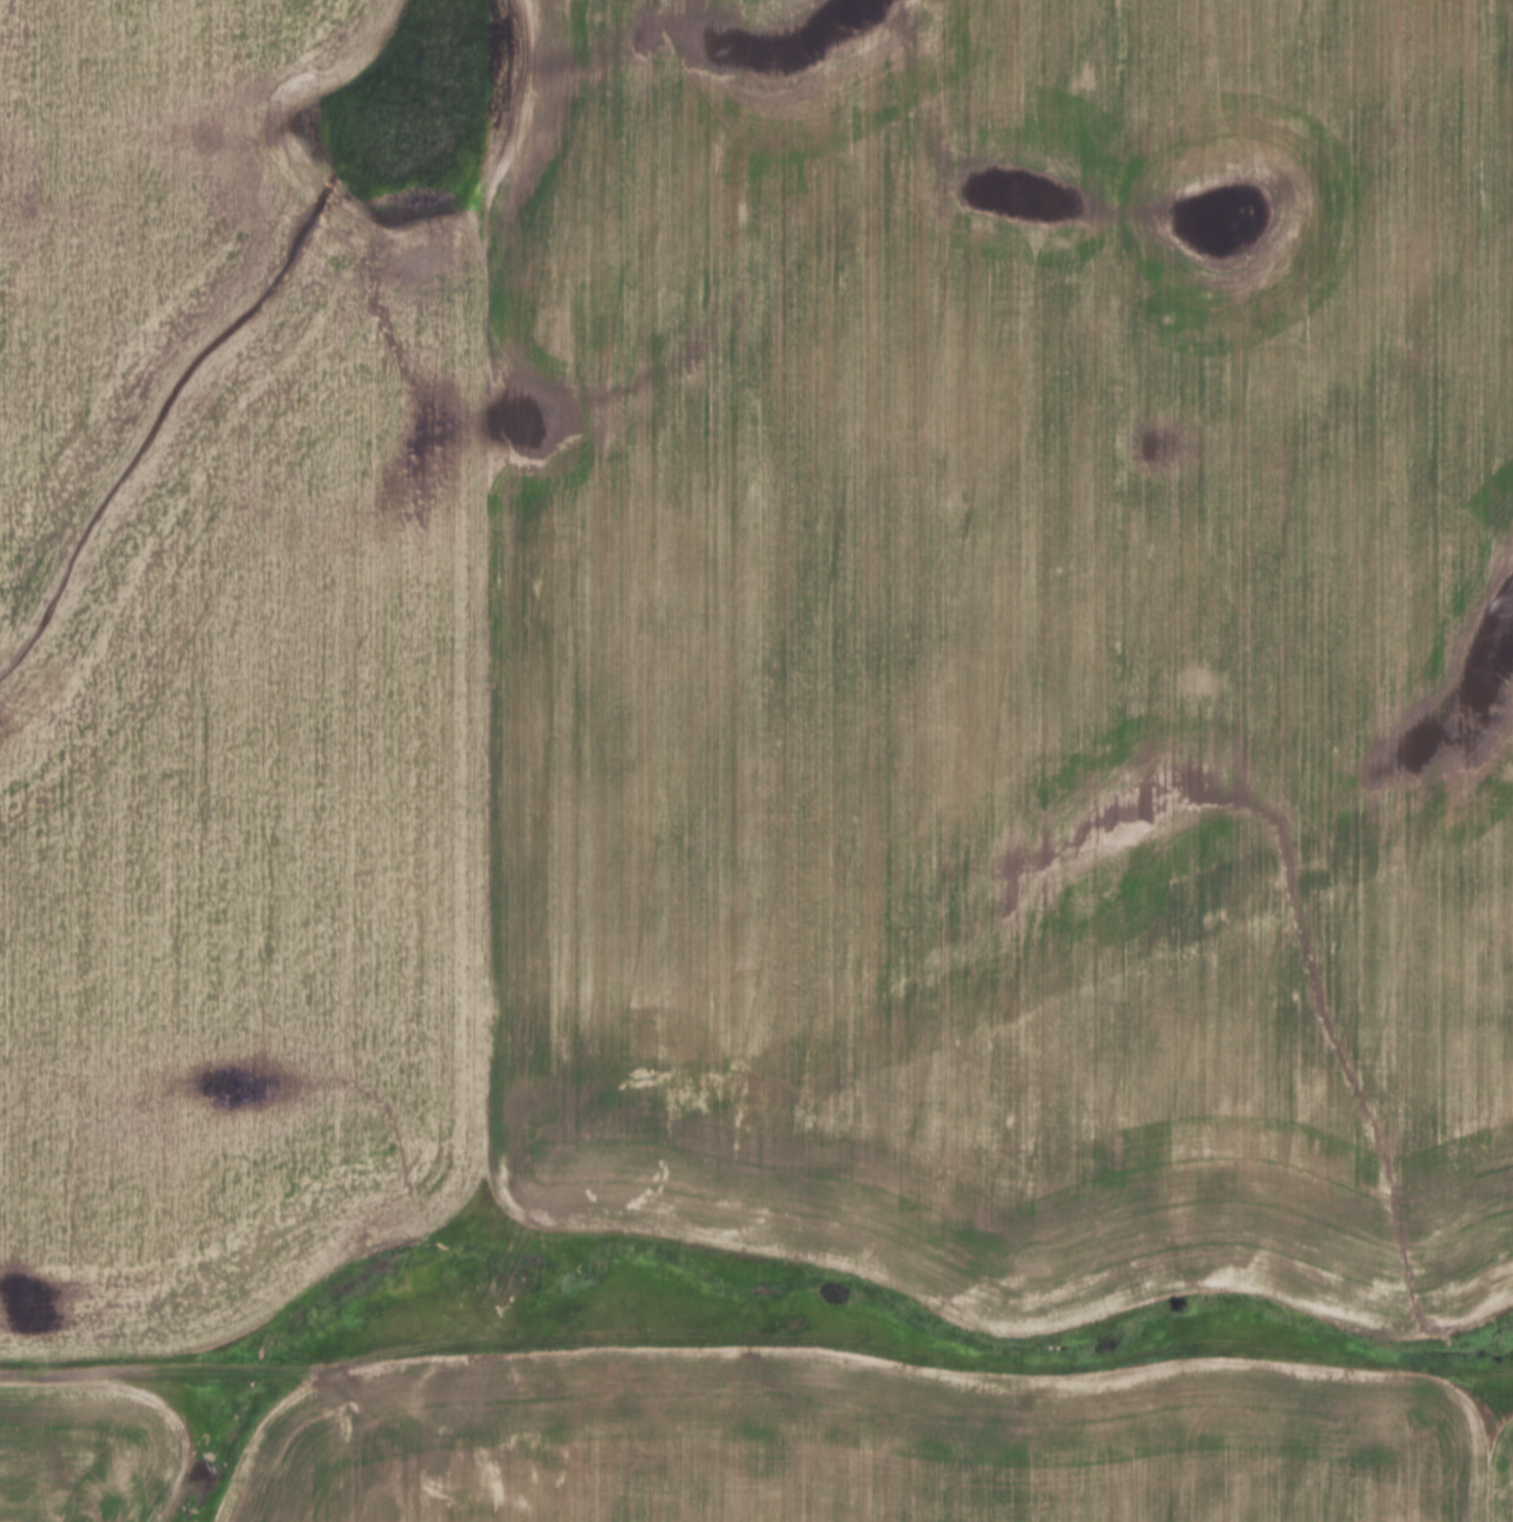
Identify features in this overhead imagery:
road: (760, 1336)

